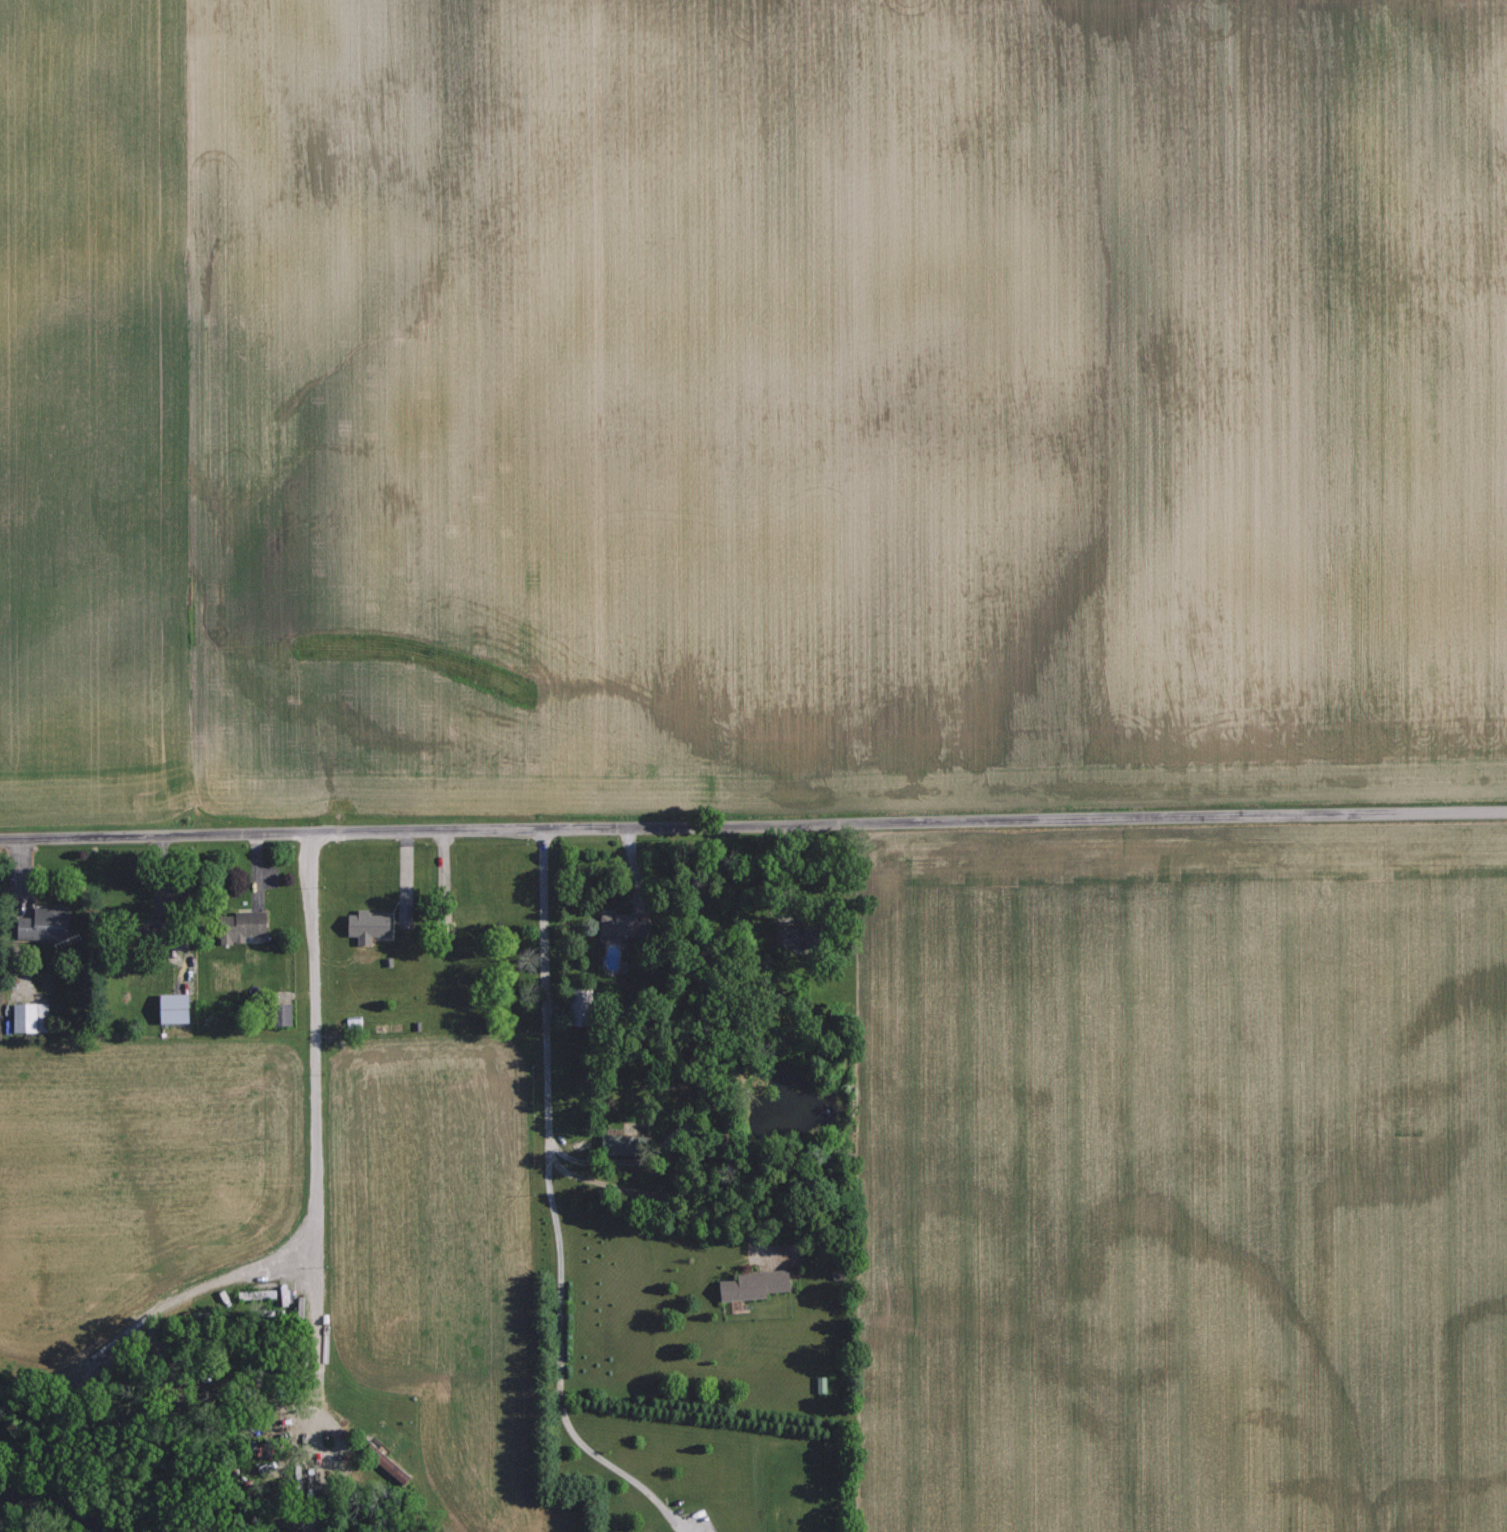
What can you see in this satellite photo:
road: (753, 824)
building: (403, 914)
building: (40, 924)
building: (615, 924)
building: (239, 925)
building: (364, 925)
building: (781, 936)
building: (171, 1007)
building: (278, 1013)
building: (29, 1017)
road: (140, 1039)
road: (315, 1118)
building: (619, 1145)
road: (552, 1205)
building: (751, 1285)
building: (254, 1299)
building: (384, 1462)

